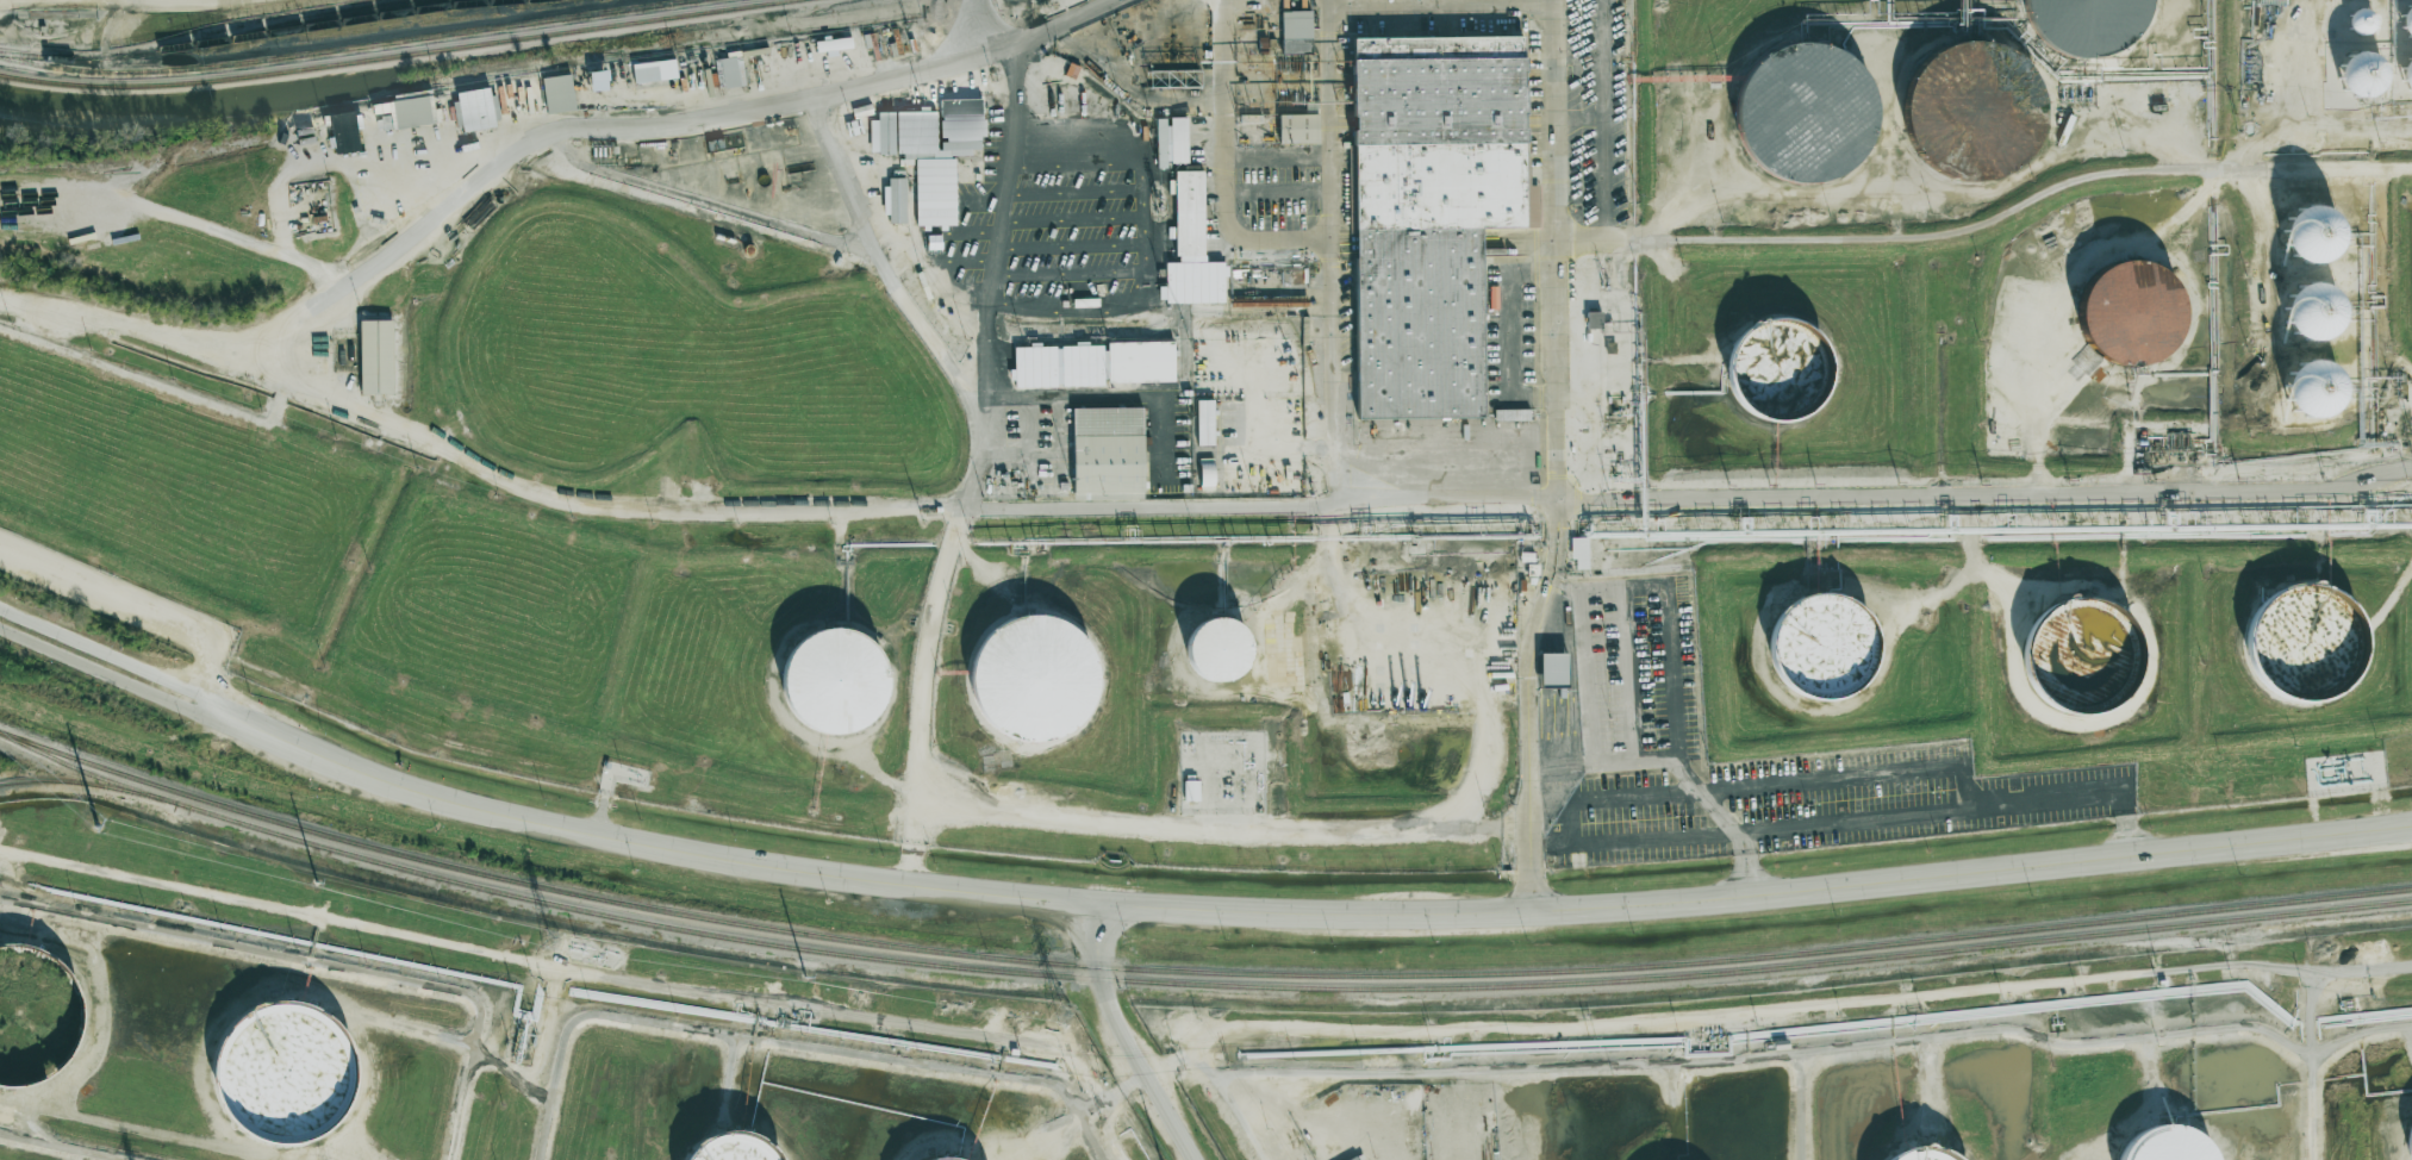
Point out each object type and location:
road: (205, 0)
road: (1442, 6)
building: (2356, 14)
storage tank: (2356, 14)
building: (2405, 15)
storage tank: (2405, 15)
railway: (351, 19)
building: (2094, 26)
storage tank: (2094, 26)
building: (1297, 33)
railway: (205, 42)
railway: (347, 48)
railway: (397, 55)
building: (2405, 67)
storage tank: (2405, 67)
building: (2352, 68)
storage tank: (2352, 68)
building: (655, 71)
building: (730, 74)
building: (603, 82)
building: (559, 95)
building: (475, 111)
building: (1974, 111)
storage tank: (1974, 111)
building: (413, 112)
building: (1802, 114)
storage tank: (1802, 114)
road: (1604, 118)
building: (1297, 129)
building: (347, 132)
building: (1171, 141)
road: (532, 143)
road: (1279, 154)
road: (1227, 164)
road: (2323, 170)
road: (1934, 177)
building: (895, 200)
road: (702, 202)
road: (2030, 206)
building: (1188, 213)
building: (1433, 216)
road: (218, 232)
building: (2312, 233)
storage tank: (2312, 233)
road: (1148, 249)
road: (1335, 282)
road: (2217, 308)
building: (2311, 312)
storage tank: (2311, 312)
building: (2132, 313)
storage tank: (2132, 313)
road: (933, 332)
building: (376, 356)
building: (1140, 362)
building: (1082, 364)
building: (1035, 366)
building: (1781, 369)
storage tank: (1781, 369)
road: (2189, 378)
building: (2312, 388)
storage tank: (2312, 388)
building: (1512, 414)
building: (1204, 422)
road: (2045, 422)
road: (990, 439)
building: (1108, 453)
road: (1559, 461)
building: (1207, 474)
road: (1285, 509)
building: (1579, 551)
road: (1976, 556)
road: (1316, 572)
road: (1934, 599)
road: (2399, 600)
road: (139, 604)
building: (2305, 641)
storage tank: (2305, 641)
building: (1822, 646)
storage tank: (1822, 646)
building: (1219, 649)
storage tank: (1219, 649)
road: (107, 654)
building: (2081, 654)
storage tank: (2081, 654)
road: (1458, 665)
road: (1587, 666)
building: (1552, 668)
road: (102, 672)
building: (1034, 678)
storage tank: (1034, 678)
building: (835, 681)
storage tank: (835, 681)
parking lot: (1753, 757)
road: (1850, 775)
railway: (88, 782)
building: (1191, 790)
road: (1961, 806)
power tower: (93, 823)
road: (1230, 829)
road: (1572, 840)
railway: (524, 897)
road: (1300, 913)
power tower: (554, 943)
railway: (1193, 971)
railway: (1741, 971)
road: (1793, 1005)
road: (2308, 1011)
power tower: (1067, 1015)
building: (36, 1017)
storage tank: (36, 1017)
road: (1122, 1035)
road: (762, 1037)
road: (1809, 1050)
road: (1168, 1068)
building: (288, 1074)
storage tank: (288, 1074)
road: (1112, 1098)
road: (1802, 1105)
road: (2311, 1106)
road: (1229, 1111)
road: (1090, 1137)
building: (2408, 1137)
building: (2163, 1143)
building: (741, 1150)
storage tank: (741, 1150)
building: (1918, 1153)
building: (1353, 1158)

